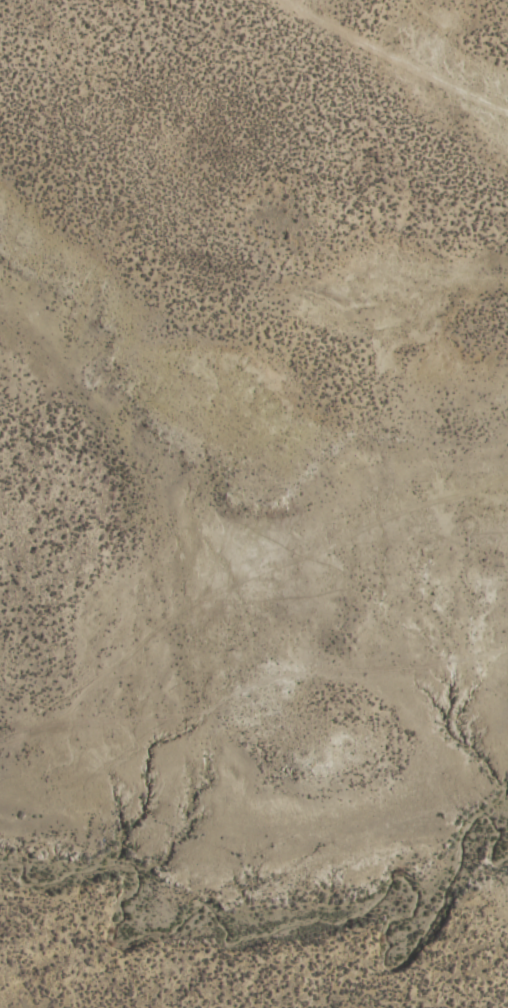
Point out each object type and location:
river: (268, 933)

